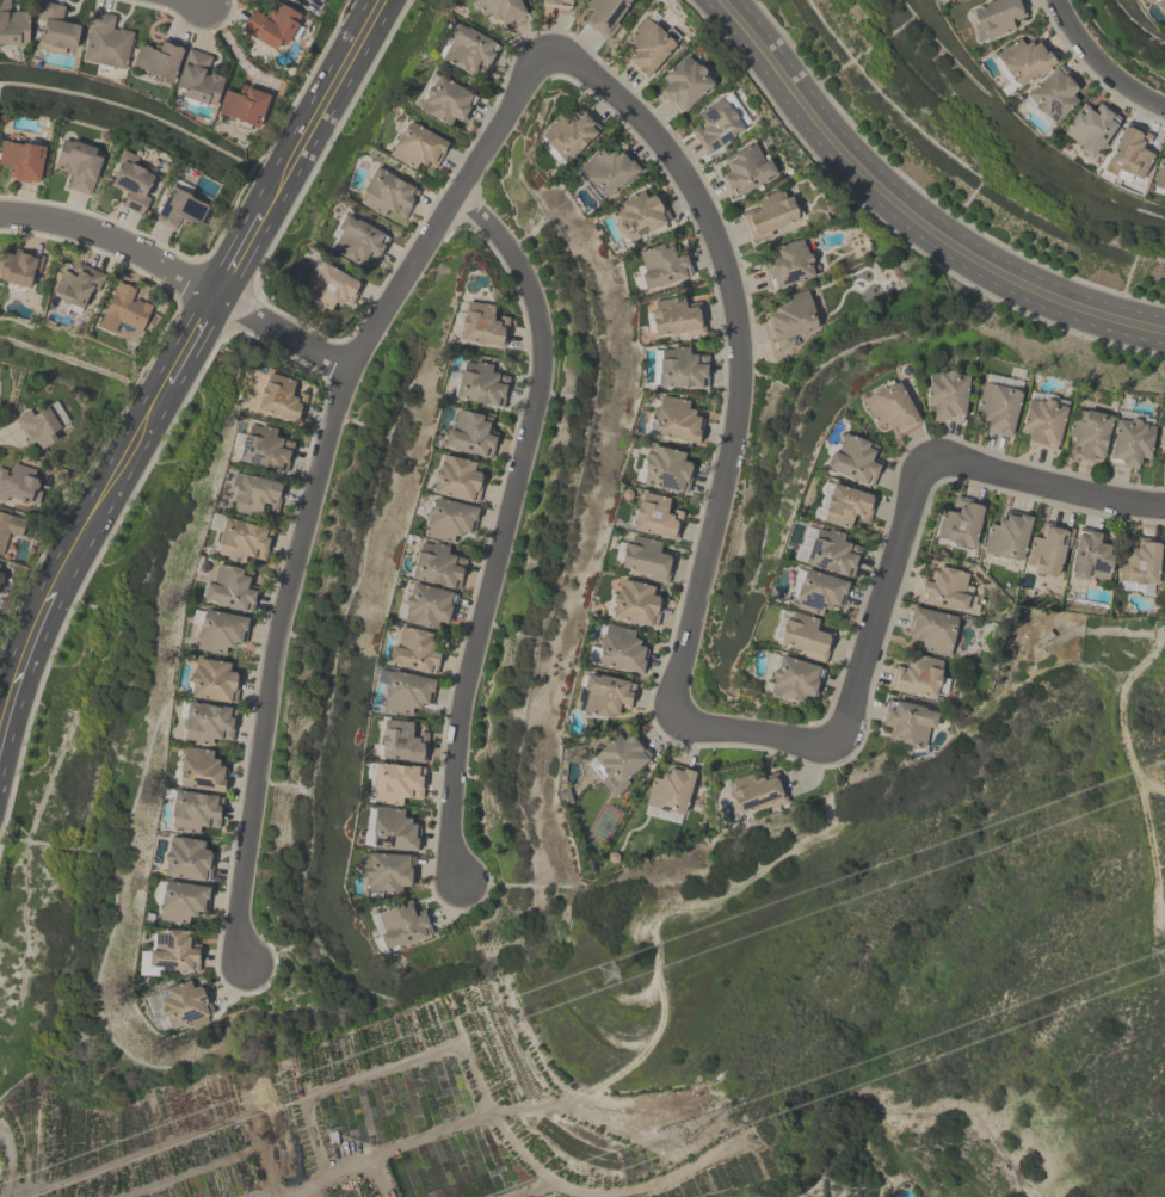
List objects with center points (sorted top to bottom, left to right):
building: (555, 2)
building: (1161, 2)
building: (500, 10)
building: (606, 17)
building: (994, 18)
road: (1074, 20)
building: (13, 26)
building: (273, 26)
building: (56, 29)
building: (106, 43)
building: (649, 49)
building: (467, 50)
building: (159, 61)
building: (1024, 62)
road: (1122, 76)
building: (201, 80)
building: (686, 85)
building: (1053, 97)
building: (446, 101)
road: (322, 103)
building: (245, 106)
building: (716, 127)
building: (1090, 130)
building: (569, 135)
building: (418, 148)
building: (1132, 155)
building: (23, 162)
building: (79, 166)
building: (747, 171)
building: (609, 172)
building: (1160, 177)
building: (134, 184)
building: (388, 195)
building: (184, 203)
road: (907, 212)
building: (771, 215)
building: (640, 216)
building: (357, 241)
road: (240, 251)
building: (790, 265)
building: (662, 266)
building: (19, 270)
road: (180, 274)
building: (78, 286)
building: (332, 289)
building: (125, 311)
building: (676, 320)
building: (793, 320)
building: (483, 326)
road: (192, 337)
road: (738, 346)
building: (682, 369)
building: (480, 384)
building: (948, 396)
building: (282, 399)
building: (999, 403)
building: (892, 408)
building: (676, 420)
building: (1043, 421)
building: (45, 426)
building: (470, 436)
building: (1089, 436)
building: (1133, 440)
building: (265, 449)
building: (856, 461)
building: (666, 470)
building: (457, 480)
road: (314, 481)
road: (1048, 482)
building: (20, 485)
building: (255, 495)
building: (843, 505)
building: (654, 517)
building: (449, 520)
building: (961, 524)
road: (501, 526)
building: (10, 529)
building: (1009, 537)
building: (241, 539)
building: (827, 551)
building: (1049, 551)
road: (73, 554)
building: (1092, 557)
building: (645, 560)
building: (438, 566)
building: (1141, 568)
building: (2, 573)
building: (230, 588)
building: (947, 590)
building: (818, 592)
road: (883, 598)
building: (636, 605)
building: (425, 606)
building: (936, 631)
building: (220, 633)
building: (802, 636)
building: (1035, 641)
building: (414, 650)
building: (621, 650)
building: (921, 678)
building: (795, 680)
building: (214, 683)
building: (407, 693)
building: (605, 696)
building: (209, 724)
building: (910, 724)
road: (754, 729)
building: (402, 742)
power tower: (1140, 761)
building: (618, 763)
building: (202, 771)
building: (395, 784)
building: (756, 794)
building: (671, 795)
building: (196, 812)
building: (393, 831)
building: (187, 859)
building: (386, 874)
building: (184, 902)
building: (400, 926)
building: (171, 954)
power tower: (1146, 954)
power tower: (592, 968)
building: (179, 1006)
power tower: (682, 1111)
crop: (349, 1112)

